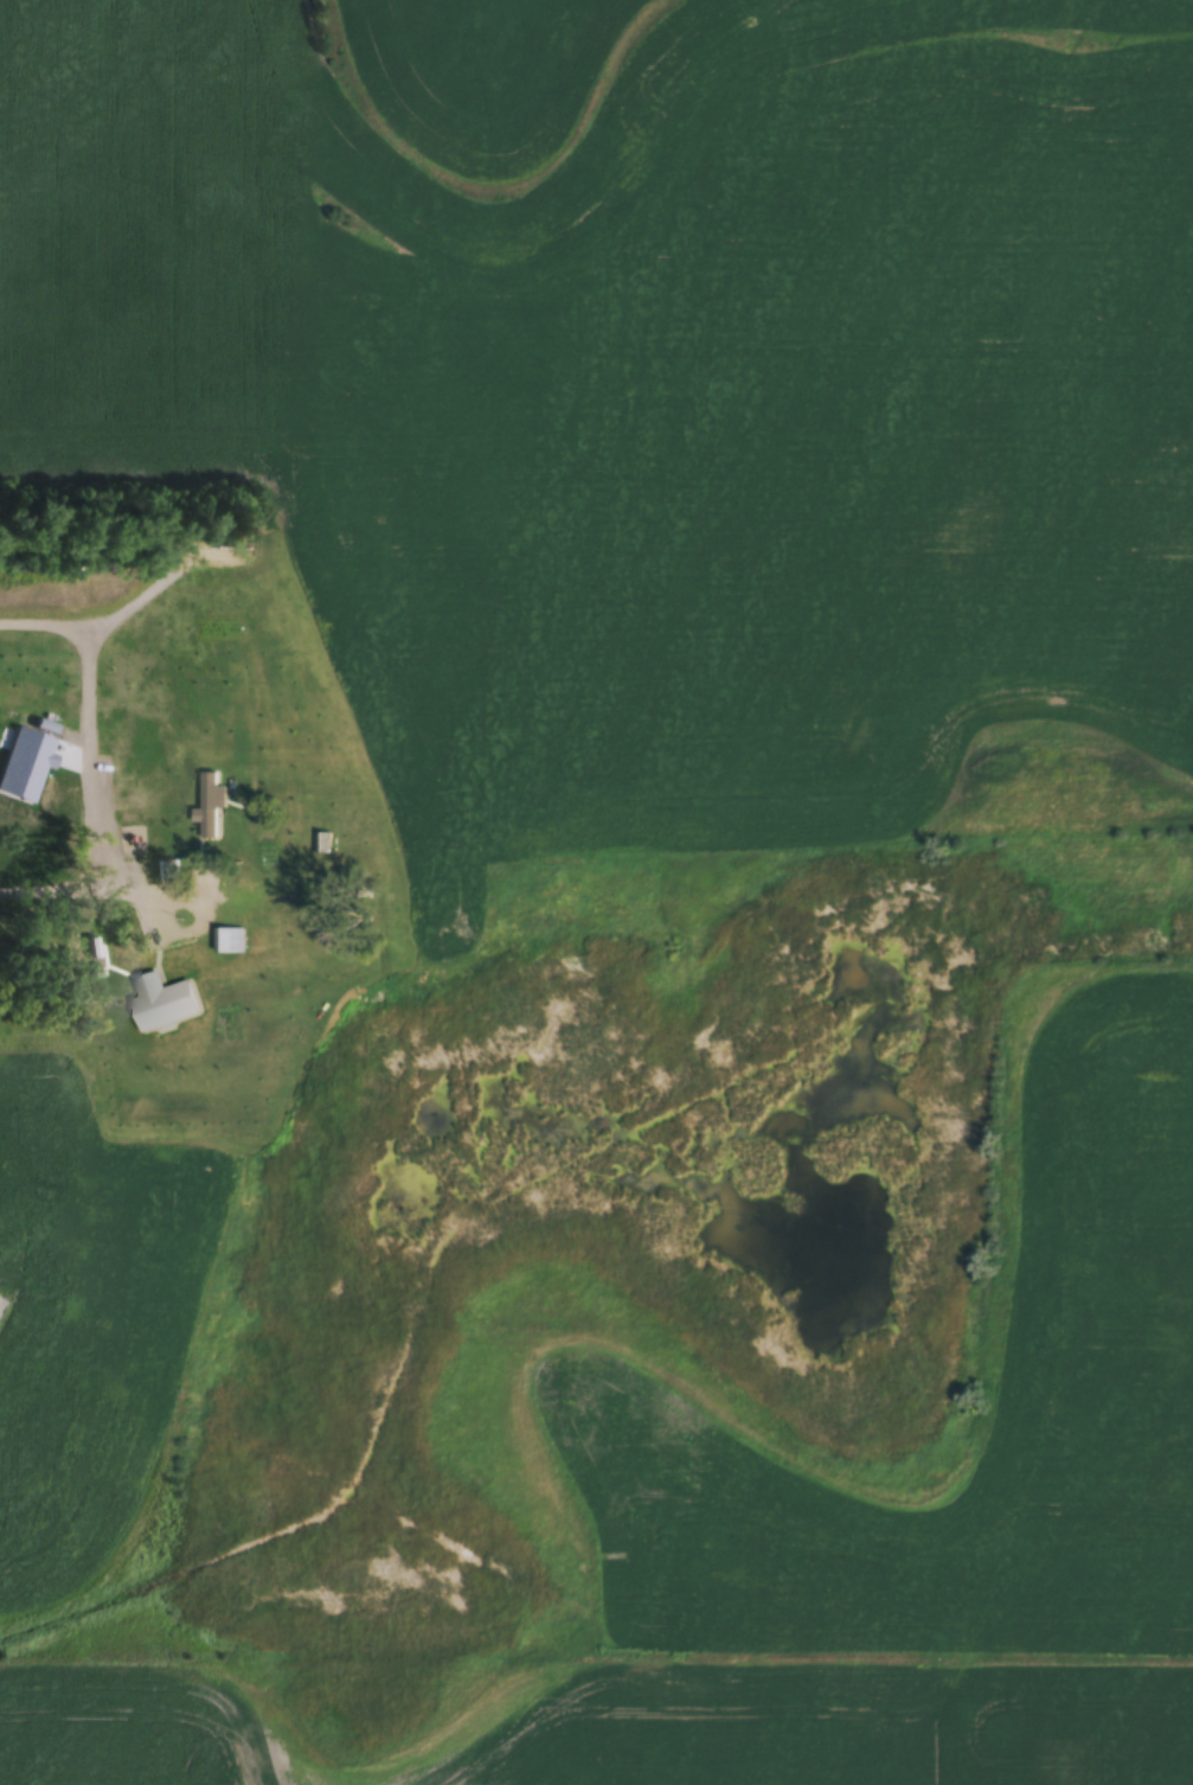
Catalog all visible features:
building: (121, 823)
building: (325, 845)
building: (168, 871)
road: (86, 885)
building: (229, 943)
building: (178, 1002)

